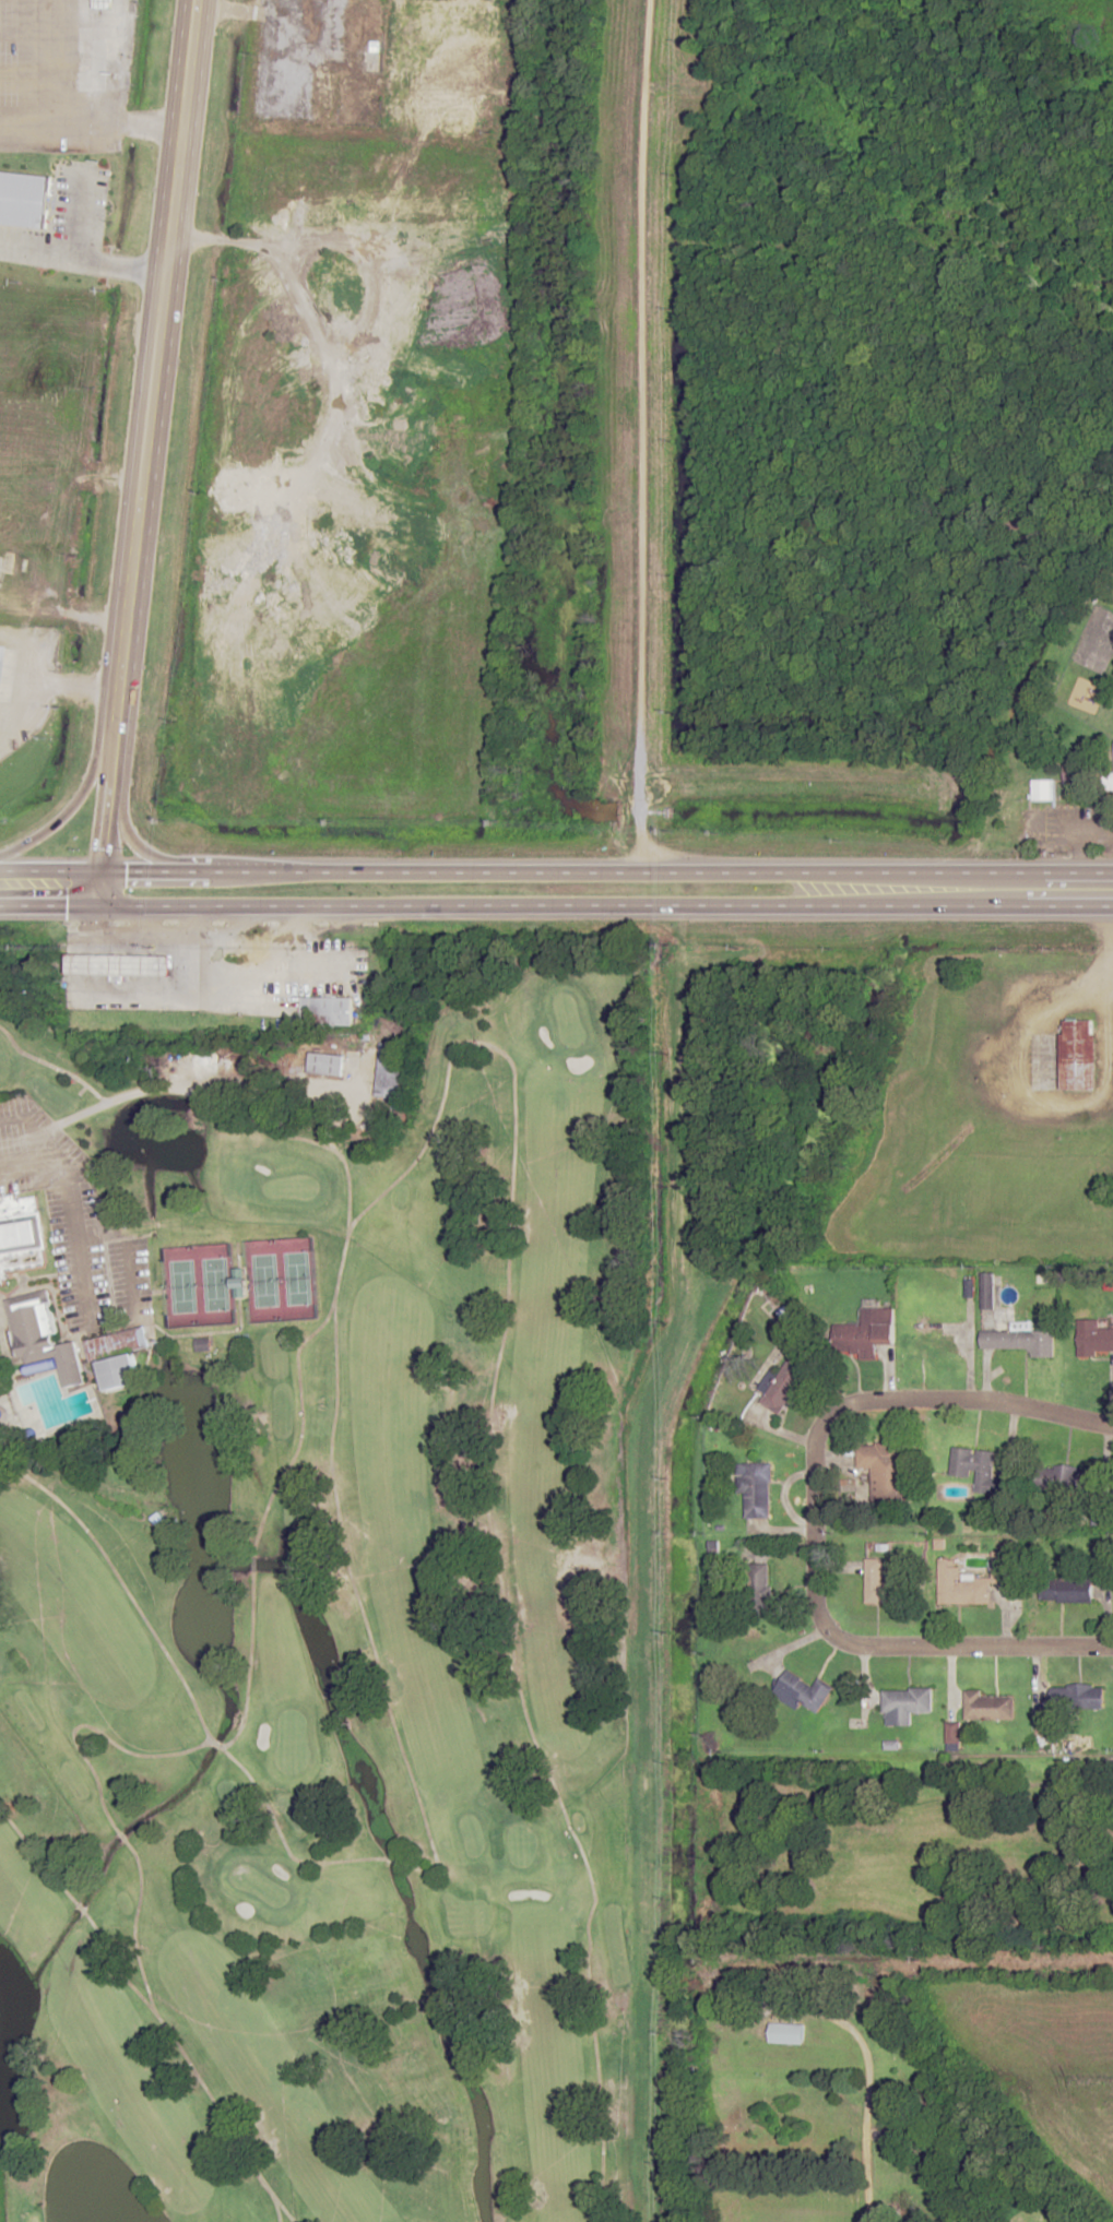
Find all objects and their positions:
building: (103, 4)
gas station: (103, 4)
road: (279, 16)
road: (37, 63)
building: (506, 63)
building: (325, 87)
road: (91, 127)
building: (24, 209)
parking lot: (70, 223)
road: (156, 354)
road: (639, 436)
building: (13, 533)
road: (46, 548)
building: (13, 565)
road: (25, 650)
road: (75, 685)
road: (19, 710)
building: (1042, 791)
road: (76, 797)
road: (109, 808)
road: (1085, 844)
road: (155, 847)
traffic signals: (106, 872)
road: (556, 872)
road: (52, 907)
traffic signals: (106, 908)
road: (609, 908)
building: (119, 961)
gas station: (119, 961)
building: (327, 1010)
building: (1079, 1054)
building: (324, 1064)
road: (49, 1065)
building: (390, 1070)
parking lot: (25, 1108)
road: (91, 1109)
parking lot: (12, 1139)
road: (32, 1161)
parking lot: (83, 1178)
parking lot: (21, 1184)
building: (20, 1234)
parking lot: (62, 1260)
parking lot: (142, 1276)
parking lot: (108, 1278)
park: (280, 1279)
building: (238, 1283)
park: (198, 1285)
road: (1, 1312)
road: (90, 1328)
road: (238, 1330)
building: (866, 1332)
building: (43, 1335)
building: (1097, 1340)
building: (1020, 1341)
building: (201, 1343)
building: (117, 1344)
building: (937, 1344)
building: (117, 1370)
building: (786, 1383)
road: (495, 1386)
road: (299, 1426)
building: (976, 1468)
building: (888, 1470)
building: (1062, 1477)
building: (757, 1490)
road: (810, 1518)
road: (649, 1532)
road: (252, 1565)
road: (348, 1572)
building: (971, 1581)
building: (879, 1584)
road: (123, 1587)
building: (758, 1590)
building: (1066, 1590)
park: (344, 1596)
building: (802, 1691)
building: (1082, 1696)
building: (905, 1704)
building: (988, 1707)
road: (91, 1728)
road: (215, 1745)
road: (222, 1747)
road: (236, 1762)
road: (121, 1837)
road: (393, 1859)
road: (79, 1908)
road: (170, 2031)
building: (796, 2122)
road: (863, 2167)
road: (277, 2212)
road: (285, 2212)

